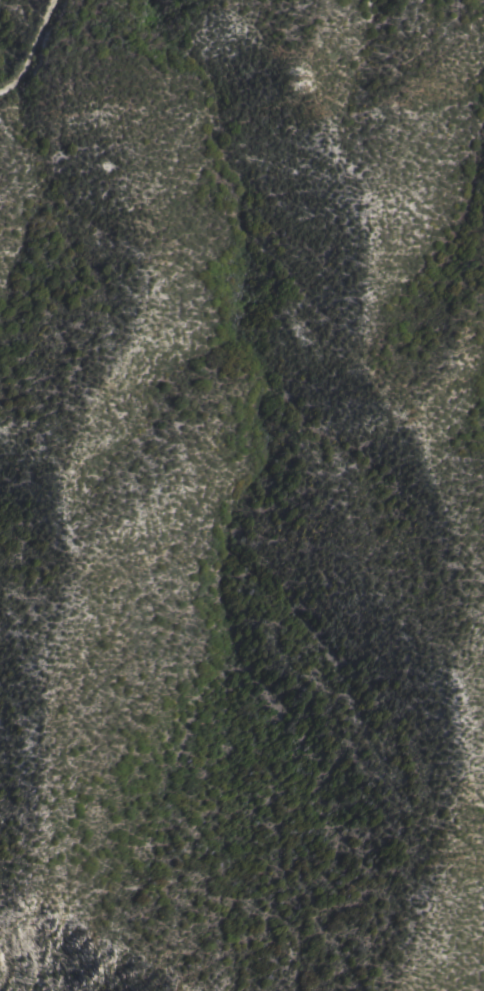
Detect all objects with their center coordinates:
road: (31, 49)

